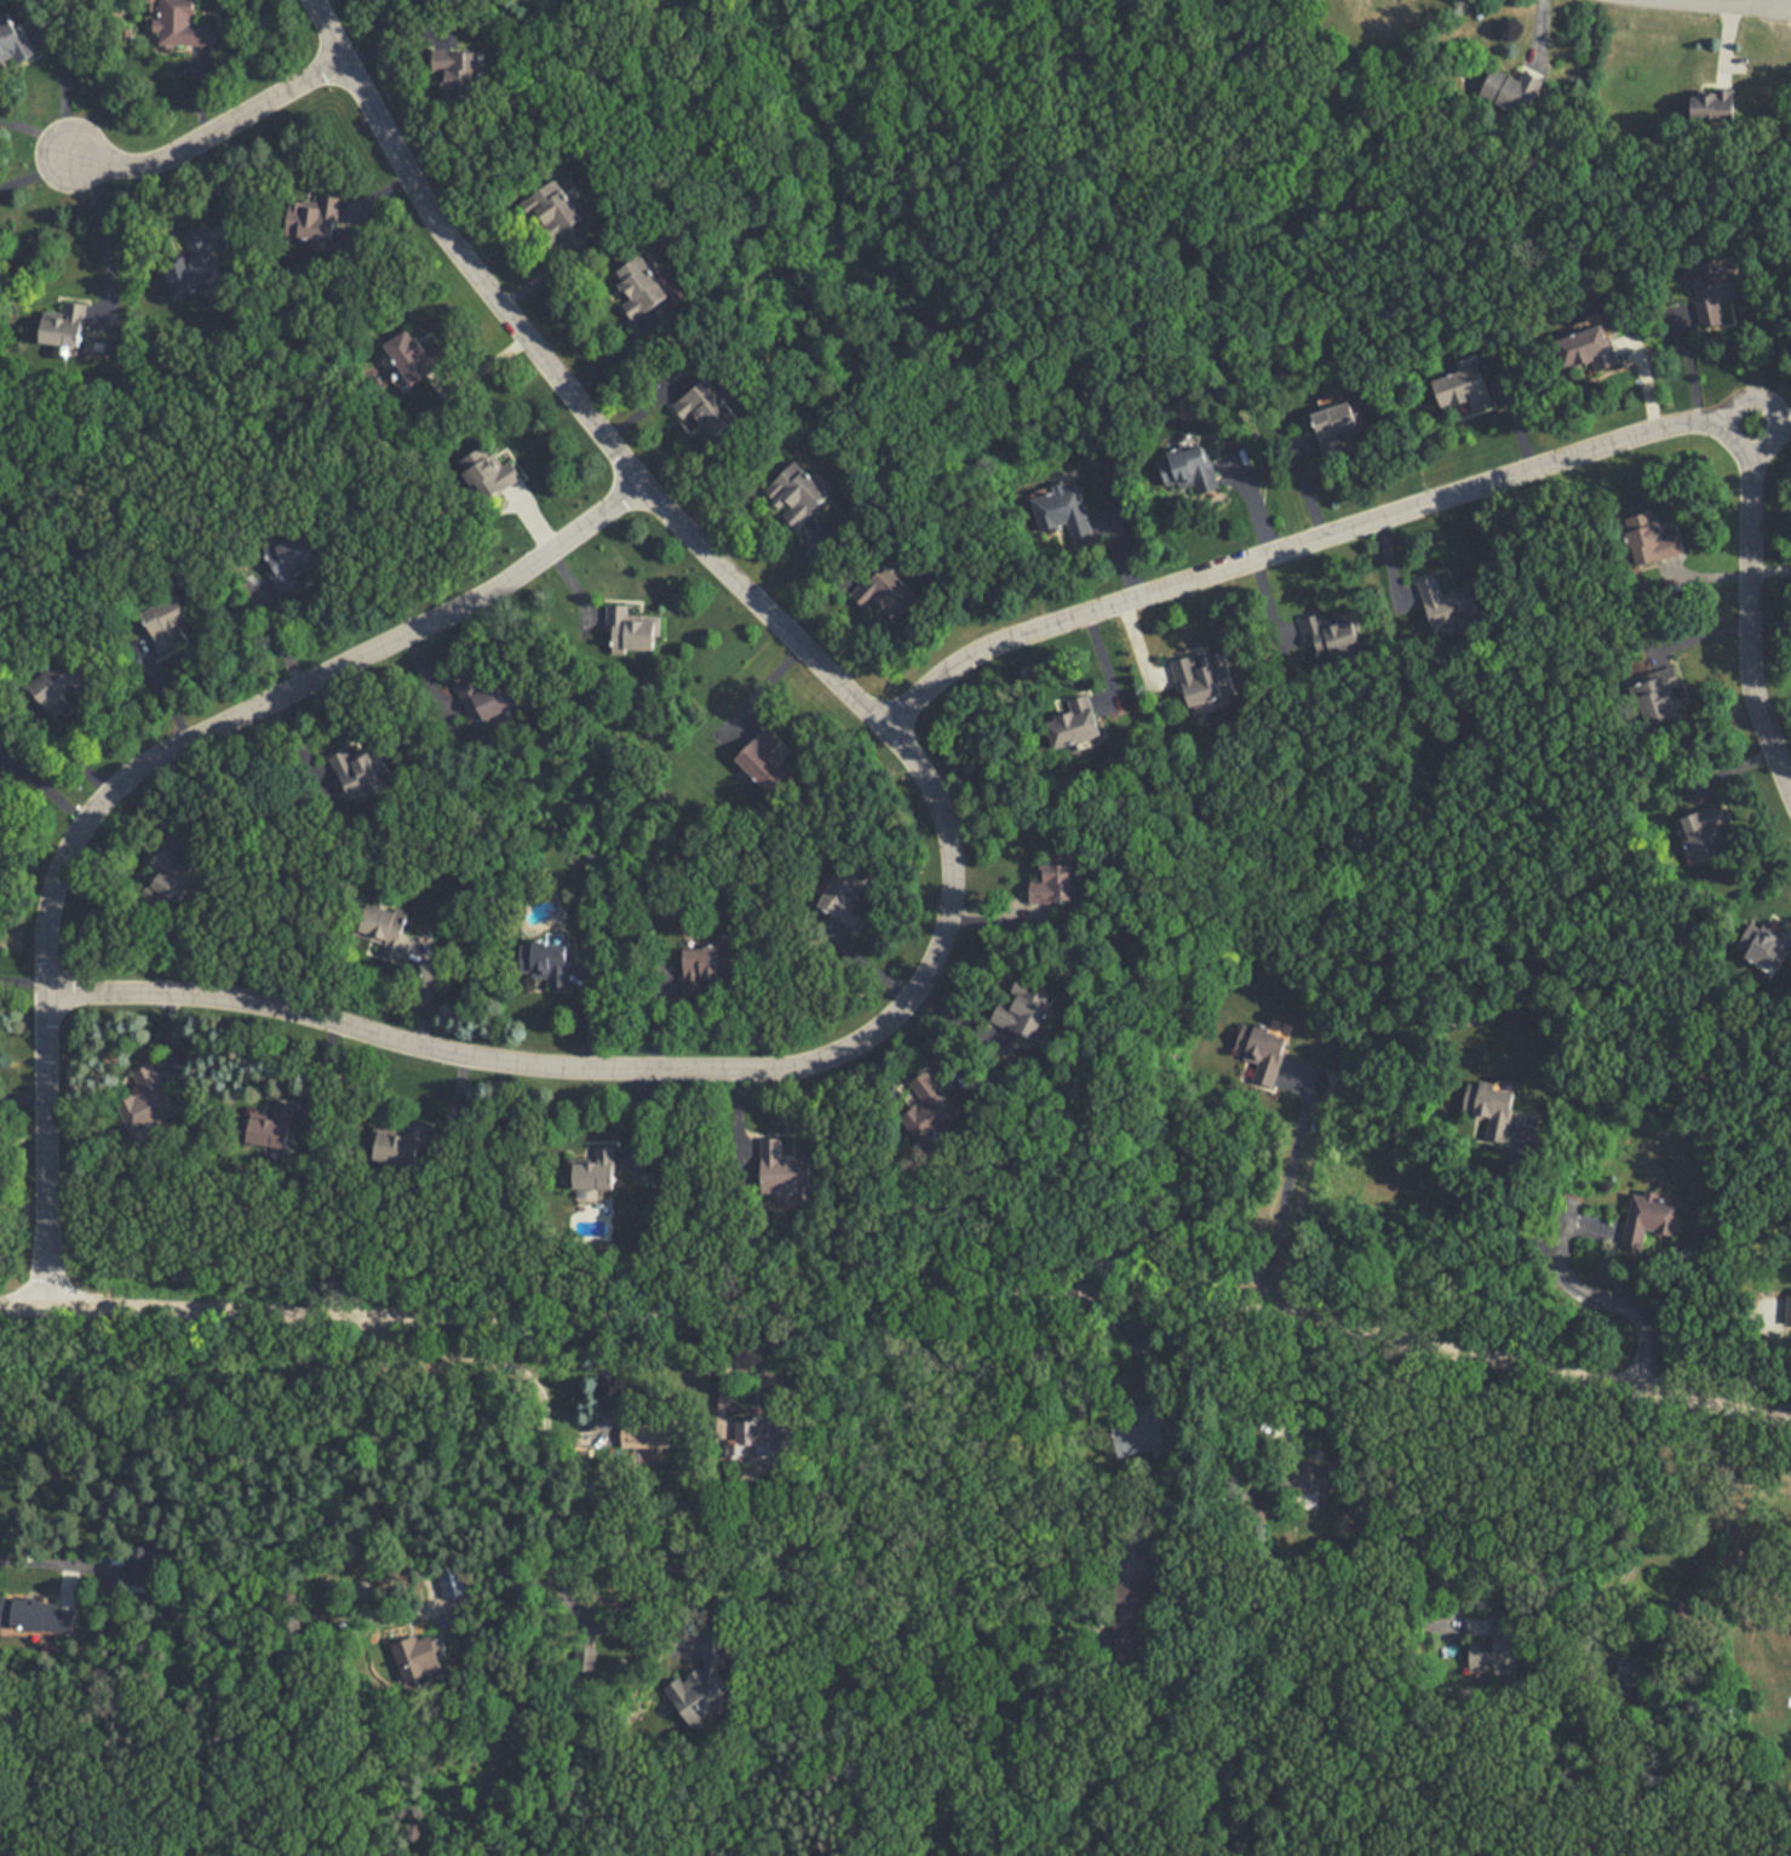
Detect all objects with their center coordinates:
road: (1713, 5)
building: (180, 19)
building: (15, 33)
building: (457, 73)
road: (63, 86)
building: (1510, 88)
road: (200, 92)
building: (1709, 104)
road: (39, 126)
road: (211, 132)
road: (34, 166)
road: (216, 185)
road: (378, 191)
building: (314, 210)
building: (551, 211)
road: (102, 236)
building: (189, 257)
building: (641, 287)
building: (1715, 291)
building: (63, 320)
building: (1589, 350)
building: (413, 356)
building: (1462, 390)
road: (1769, 406)
building: (706, 409)
road: (1784, 411)
building: (1334, 426)
building: (1187, 470)
building: (488, 475)
road: (1481, 483)
building: (796, 494)
building: (1061, 514)
building: (1649, 539)
building: (289, 561)
building: (1442, 598)
building: (166, 623)
building: (631, 629)
building: (1328, 637)
building: (1202, 677)
building: (58, 684)
building: (487, 695)
building: (1655, 697)
building: (1074, 723)
building: (762, 762)
road: (140, 768)
building: (358, 769)
building: (1705, 832)
road: (951, 837)
building: (170, 877)
building: (1055, 877)
building: (843, 900)
building: (384, 929)
building: (1767, 945)
building: (545, 963)
building: (706, 966)
road: (24, 980)
building: (1024, 1009)
building: (1259, 1050)
building: (147, 1101)
building: (1489, 1104)
building: (926, 1107)
building: (271, 1127)
building: (401, 1145)
building: (595, 1170)
building: (781, 1172)
road: (1285, 1198)
building: (1649, 1219)
road: (901, 1293)
road: (1592, 1296)
building: (1785, 1311)
road: (1302, 1393)
building: (1146, 1427)
building: (668, 1431)
building: (764, 1434)
road: (549, 1463)
building: (1308, 1477)
road: (937, 1514)
road: (1784, 1546)
road: (367, 1556)
road: (38, 1563)
building: (139, 1566)
building: (450, 1581)
building: (1126, 1615)
building: (38, 1617)
building: (1503, 1634)
building: (417, 1659)
building: (702, 1691)

